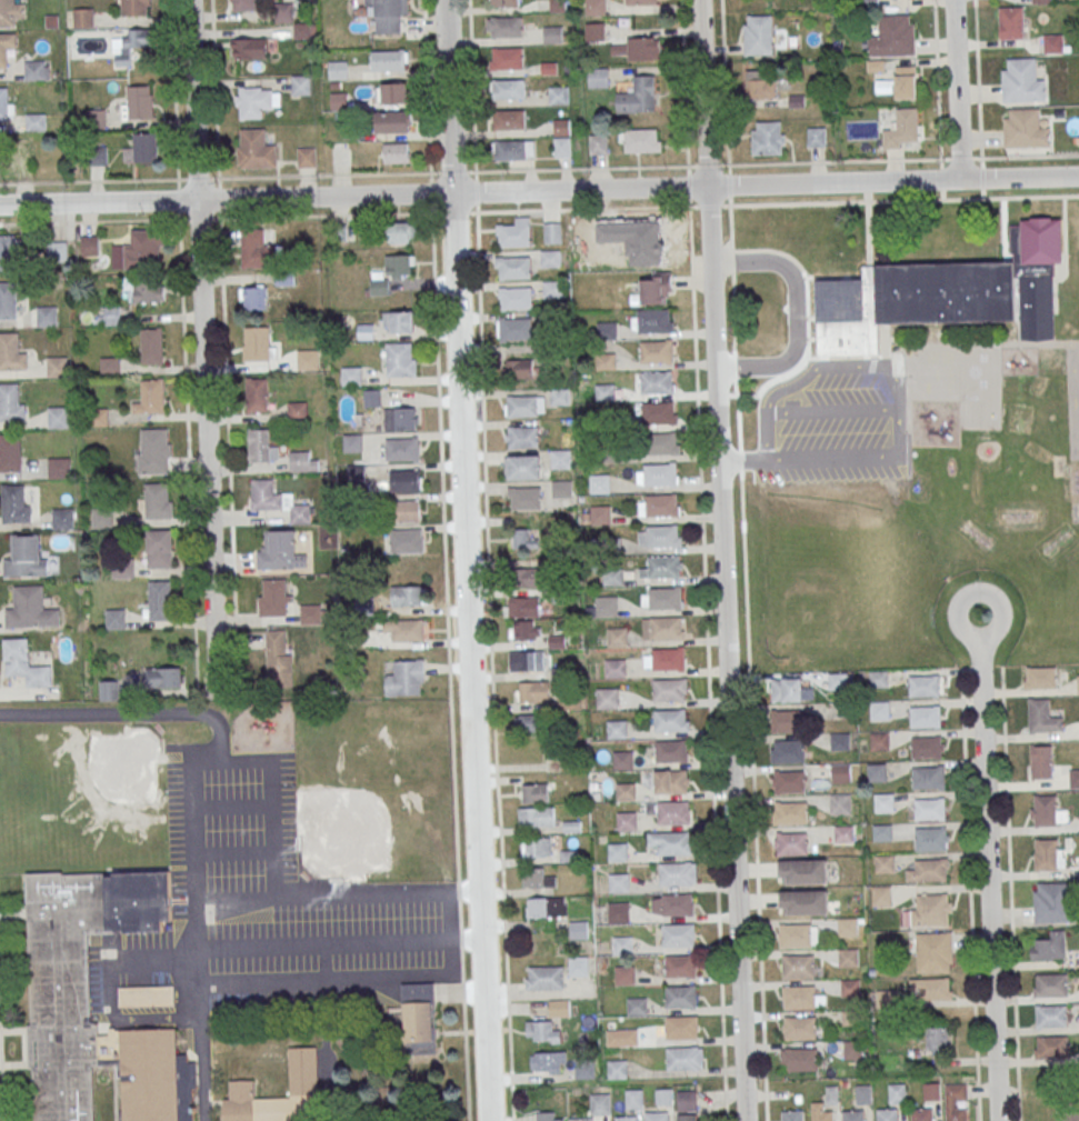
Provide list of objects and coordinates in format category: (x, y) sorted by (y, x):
building: (640, 1)
building: (506, 2)
building: (244, 4)
building: (132, 7)
building: (595, 7)
building: (7, 10)
building: (284, 11)
building: (389, 14)
building: (83, 16)
building: (1011, 22)
building: (507, 27)
building: (595, 31)
building: (553, 33)
building: (758, 34)
building: (892, 36)
building: (1053, 43)
building: (132, 44)
building: (6, 46)
building: (249, 47)
building: (639, 48)
building: (507, 57)
building: (389, 59)
building: (34, 70)
building: (338, 70)
building: (598, 77)
road: (978, 78)
building: (1021, 81)
road: (685, 82)
building: (301, 83)
building: (760, 83)
building: (898, 83)
road: (427, 86)
road: (471, 86)
building: (508, 88)
road: (955, 90)
building: (393, 91)
building: (559, 94)
building: (638, 96)
road: (938, 99)
building: (256, 100)
building: (138, 101)
road: (725, 102)
building: (3, 103)
building: (94, 118)
building: (509, 119)
building: (34, 121)
building: (396, 121)
building: (901, 128)
building: (1025, 129)
road: (705, 134)
building: (816, 137)
building: (767, 138)
building: (641, 140)
building: (598, 143)
building: (562, 146)
building: (142, 148)
building: (256, 149)
building: (511, 149)
building: (397, 152)
building: (12, 154)
building: (306, 156)
road: (777, 162)
road: (384, 173)
road: (981, 177)
road: (539, 190)
road: (905, 199)
road: (690, 226)
building: (401, 231)
building: (553, 232)
building: (513, 234)
building: (90, 244)
building: (254, 248)
building: (143, 249)
building: (57, 250)
building: (8, 252)
building: (516, 267)
building: (392, 272)
road: (795, 279)
building: (146, 289)
building: (553, 289)
building: (652, 289)
building: (945, 292)
building: (253, 298)
building: (516, 298)
building: (7, 300)
building: (47, 316)
building: (109, 316)
building: (653, 319)
building: (400, 321)
building: (517, 328)
building: (607, 330)
building: (254, 344)
building: (151, 346)
road: (204, 348)
building: (8, 350)
building: (656, 351)
building: (307, 359)
building: (400, 359)
building: (605, 361)
building: (57, 366)
building: (109, 367)
road: (739, 367)
building: (518, 368)
building: (351, 376)
parking lot: (818, 376)
building: (656, 381)
building: (257, 394)
building: (152, 396)
building: (372, 398)
building: (9, 401)
building: (521, 406)
building: (298, 410)
building: (658, 412)
road: (890, 413)
building: (57, 417)
building: (98, 417)
building: (400, 418)
building: (522, 437)
building: (353, 442)
building: (660, 443)
building: (259, 446)
building: (402, 448)
building: (10, 451)
building: (153, 451)
building: (560, 458)
building: (303, 461)
building: (524, 466)
building: (59, 468)
building: (659, 473)
building: (354, 474)
building: (404, 480)
building: (600, 482)
building: (561, 488)
building: (264, 494)
building: (526, 498)
building: (157, 500)
building: (12, 502)
building: (661, 504)
building: (406, 510)
building: (596, 514)
building: (62, 518)
building: (102, 518)
building: (662, 536)
building: (406, 540)
building: (160, 548)
building: (278, 551)
building: (27, 558)
road: (464, 560)
building: (663, 565)
building: (123, 568)
building: (527, 577)
building: (407, 594)
building: (274, 595)
building: (666, 598)
building: (160, 600)
building: (523, 605)
building: (607, 605)
building: (30, 608)
building: (310, 612)
building: (116, 619)
building: (661, 627)
building: (526, 629)
building: (404, 630)
building: (616, 637)
road: (449, 645)
building: (279, 657)
building: (668, 658)
building: (527, 660)
road: (747, 662)
building: (24, 663)
road: (492, 665)
building: (615, 668)
building: (163, 677)
building: (1040, 677)
building: (406, 678)
building: (1078, 683)
building: (923, 685)
building: (669, 689)
building: (782, 689)
building: (109, 690)
building: (533, 691)
road: (727, 694)
building: (607, 698)
building: (566, 700)
road: (709, 704)
building: (879, 710)
building: (925, 715)
building: (1042, 715)
building: (670, 720)
building: (783, 720)
building: (529, 722)
building: (616, 728)
road: (219, 740)
building: (839, 740)
building: (879, 740)
building: (927, 747)
building: (671, 750)
building: (788, 751)
building: (622, 759)
building: (1041, 761)
building: (840, 771)
building: (876, 771)
building: (928, 777)
building: (1073, 778)
building: (789, 780)
building: (671, 781)
building: (625, 790)
building: (534, 792)
building: (883, 802)
building: (840, 803)
building: (929, 808)
building: (1043, 810)
building: (672, 811)
building: (789, 812)
building: (537, 817)
building: (626, 820)
building: (881, 832)
building: (843, 833)
building: (931, 838)
building: (675, 842)
building: (791, 843)
building: (536, 848)
building: (617, 851)
building: (1046, 853)
building: (885, 863)
road: (988, 867)
building: (929, 870)
building: (802, 871)
building: (676, 873)
building: (537, 878)
building: (618, 881)
road: (437, 891)
road: (463, 891)
road: (970, 893)
road: (1010, 893)
building: (881, 894)
road: (236, 898)
building: (1052, 901)
building: (803, 902)
building: (677, 903)
building: (545, 907)
building: (933, 909)
parking lot: (262, 912)
building: (618, 912)
building: (847, 927)
building: (578, 929)
building: (678, 934)
building: (798, 934)
road: (339, 944)
building: (621, 944)
building: (1049, 947)
building: (933, 951)
building: (849, 957)
building: (578, 965)
building: (680, 965)
building: (798, 965)
building: (623, 974)
building: (59, 978)
building: (545, 978)
building: (1050, 984)
building: (850, 987)
building: (932, 987)
building: (680, 995)
building: (801, 997)
road: (200, 998)
building: (886, 998)
building: (636, 1005)
building: (559, 1007)
building: (1051, 1015)
building: (419, 1018)
building: (681, 1027)
building: (799, 1027)
building: (542, 1032)
building: (621, 1037)
building: (937, 1039)
building: (1051, 1045)
building: (852, 1049)
building: (682, 1058)
building: (798, 1059)
building: (548, 1061)
building: (617, 1069)
road: (1, 1074)
building: (303, 1089)
building: (931, 1091)
building: (862, 1093)
building: (897, 1093)
building: (663, 1095)
building: (633, 1099)
building: (686, 1100)
building: (1035, 1100)
building: (955, 1101)
building: (600, 1103)
building: (820, 1112)
building: (1070, 1112)
building: (921, 1113)
building: (792, 1114)
building: (853, 1114)
building: (888, 1114)
building: (656, 1115)
building: (547, 1117)
building: (688, 1117)
building: (626, 1118)
building: (582, 1119)

